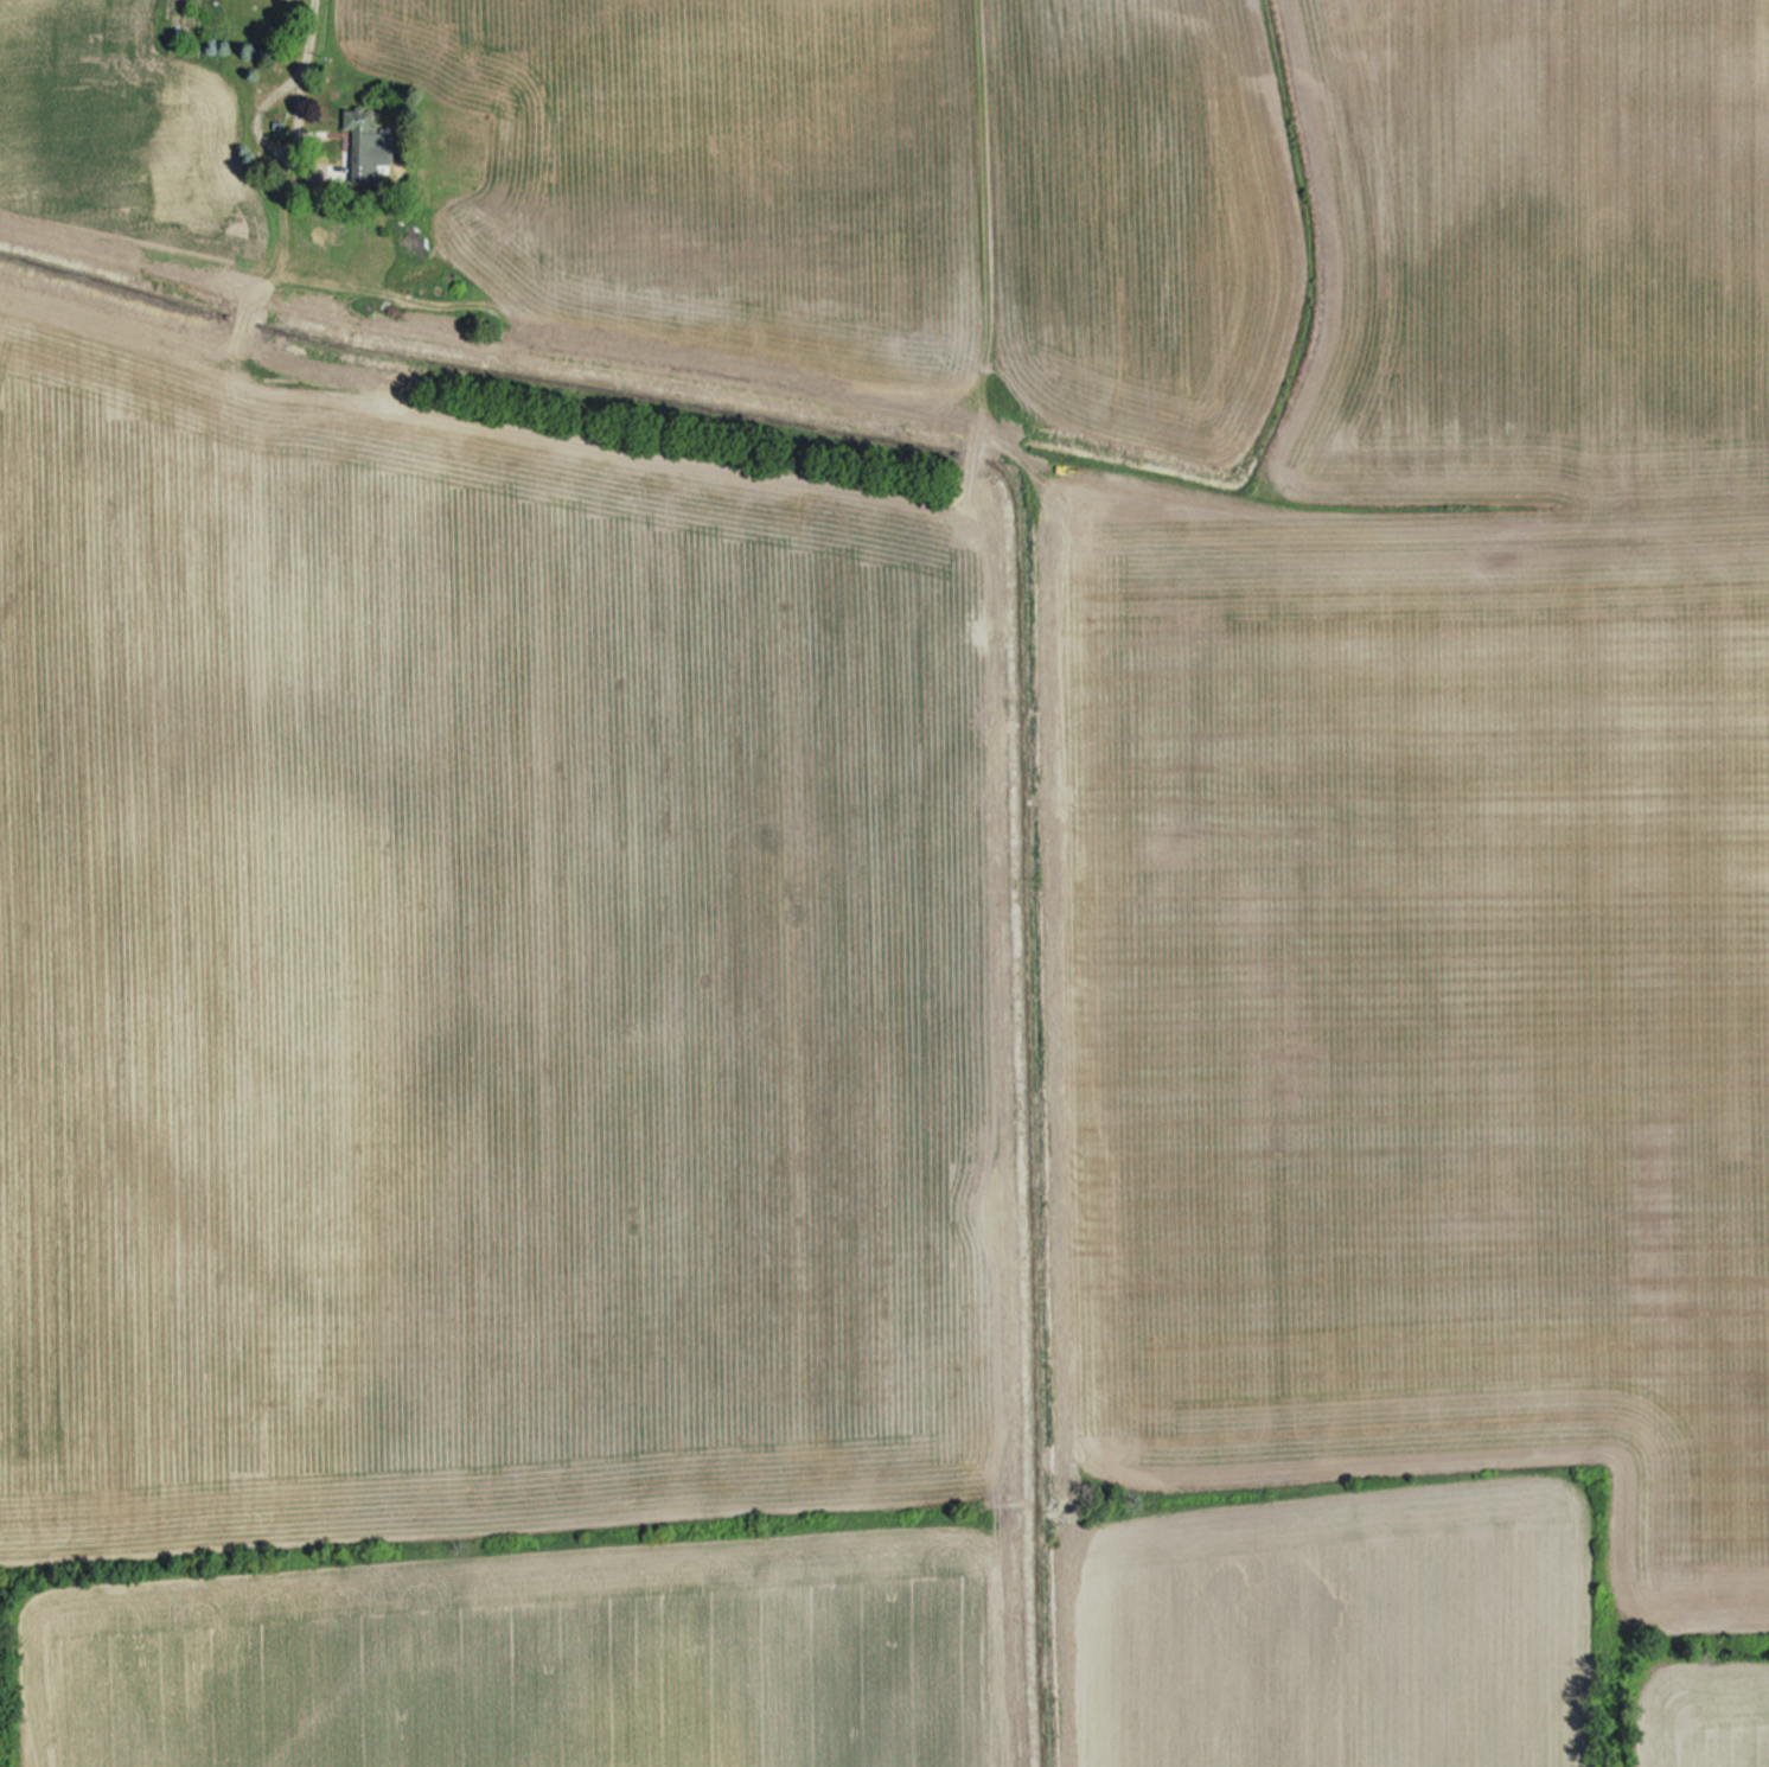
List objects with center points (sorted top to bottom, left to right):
road: (293, 60)

